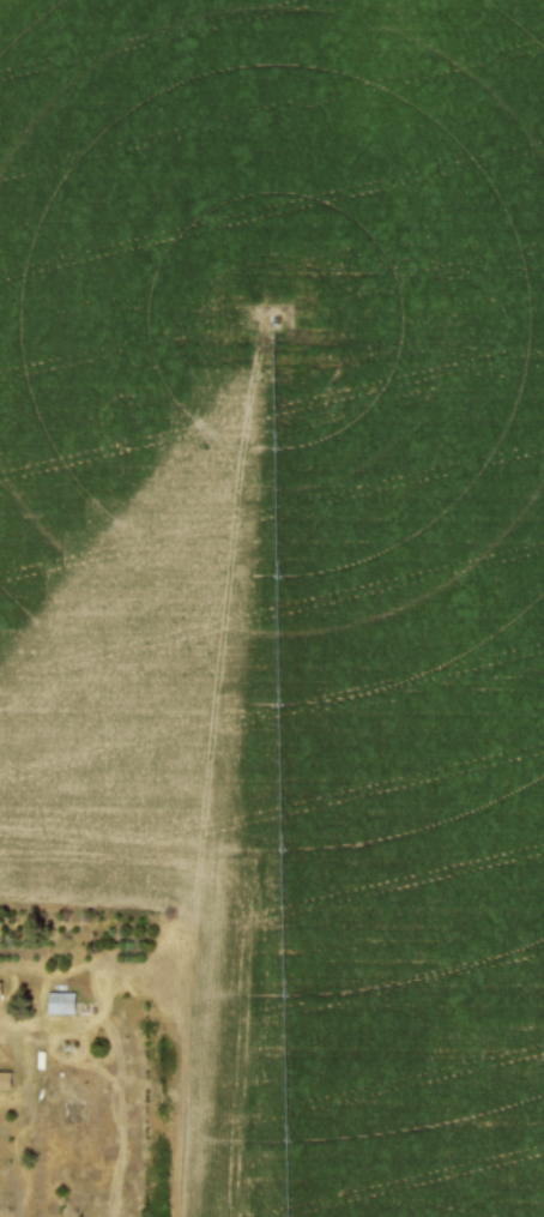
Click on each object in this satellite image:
crop: (289, 567)
building: (62, 1000)
building: (6, 1080)
road: (25, 1139)

